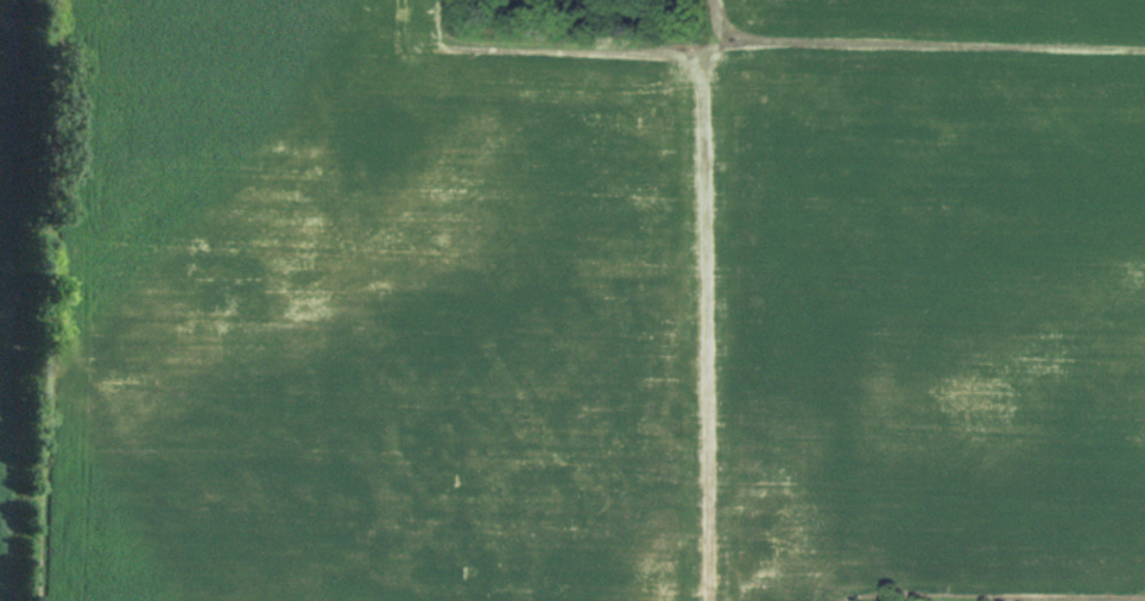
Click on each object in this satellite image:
building: (922, 600)

